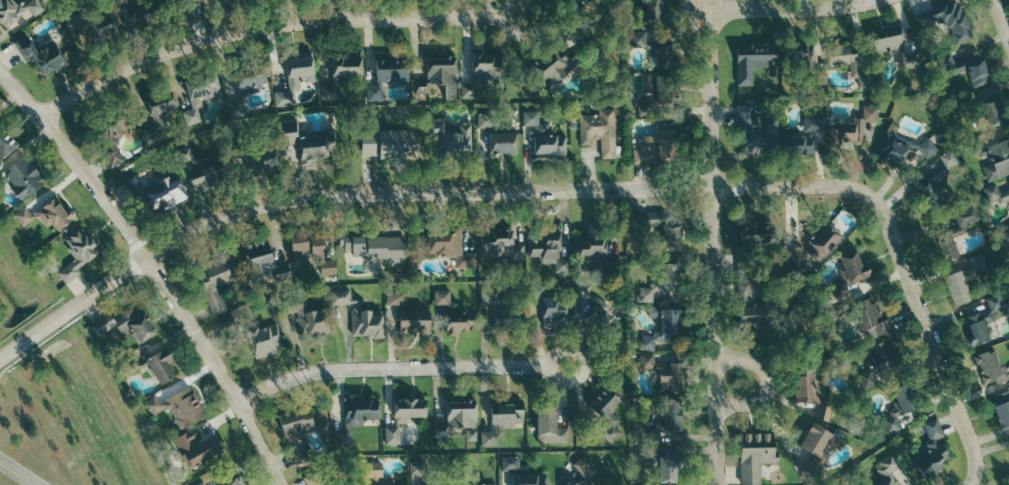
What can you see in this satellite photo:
road: (1006, 7)
road: (795, 10)
building: (654, 11)
building: (18, 13)
building: (127, 13)
building: (946, 21)
road: (270, 28)
building: (91, 31)
building: (891, 47)
building: (656, 50)
building: (39, 58)
building: (947, 61)
building: (755, 62)
building: (804, 63)
building: (847, 63)
building: (551, 66)
building: (440, 71)
building: (975, 71)
building: (340, 72)
building: (481, 72)
building: (294, 79)
building: (385, 79)
building: (247, 84)
building: (201, 89)
building: (655, 93)
road: (711, 99)
building: (991, 112)
building: (157, 113)
building: (486, 120)
building: (598, 131)
building: (756, 134)
building: (845, 134)
building: (110, 136)
building: (543, 137)
building: (805, 137)
building: (450, 138)
building: (307, 142)
building: (498, 142)
building: (5, 144)
building: (382, 145)
building: (900, 149)
building: (659, 150)
building: (991, 157)
building: (261, 161)
building: (201, 170)
building: (21, 178)
building: (935, 183)
building: (164, 193)
road: (417, 194)
building: (994, 195)
building: (24, 215)
building: (54, 215)
building: (661, 230)
building: (754, 233)
building: (1005, 235)
building: (941, 237)
building: (498, 244)
building: (821, 245)
building: (448, 246)
building: (595, 247)
building: (372, 248)
building: (548, 249)
building: (308, 250)
building: (77, 253)
building: (798, 257)
building: (257, 259)
building: (975, 266)
road: (153, 268)
building: (848, 273)
building: (285, 276)
building: (219, 280)
building: (661, 283)
building: (956, 288)
building: (743, 291)
building: (590, 307)
building: (502, 310)
building: (551, 311)
building: (453, 316)
building: (305, 317)
building: (359, 317)
building: (408, 317)
building: (869, 318)
building: (752, 319)
building: (983, 319)
building: (126, 324)
building: (662, 328)
road: (715, 336)
building: (263, 341)
road: (934, 342)
building: (880, 356)
building: (129, 365)
building: (159, 367)
building: (990, 367)
road: (401, 368)
building: (663, 372)
building: (869, 379)
road: (732, 382)
building: (803, 383)
building: (899, 406)
building: (177, 407)
building: (604, 407)
building: (1001, 408)
building: (358, 410)
building: (823, 412)
building: (829, 412)
building: (670, 415)
building: (461, 421)
building: (500, 421)
building: (548, 426)
building: (296, 432)
building: (446, 432)
building: (391, 435)
building: (490, 439)
building: (815, 440)
building: (194, 449)
building: (932, 450)
building: (754, 455)
building: (583, 467)
building: (418, 468)
building: (887, 468)
building: (667, 469)
road: (17, 473)
building: (376, 473)
building: (522, 473)
building: (468, 476)
building: (311, 478)
building: (231, 482)
building: (201, 483)
building: (396, 484)
building: (435, 484)
building: (573, 484)
building: (578, 484)

